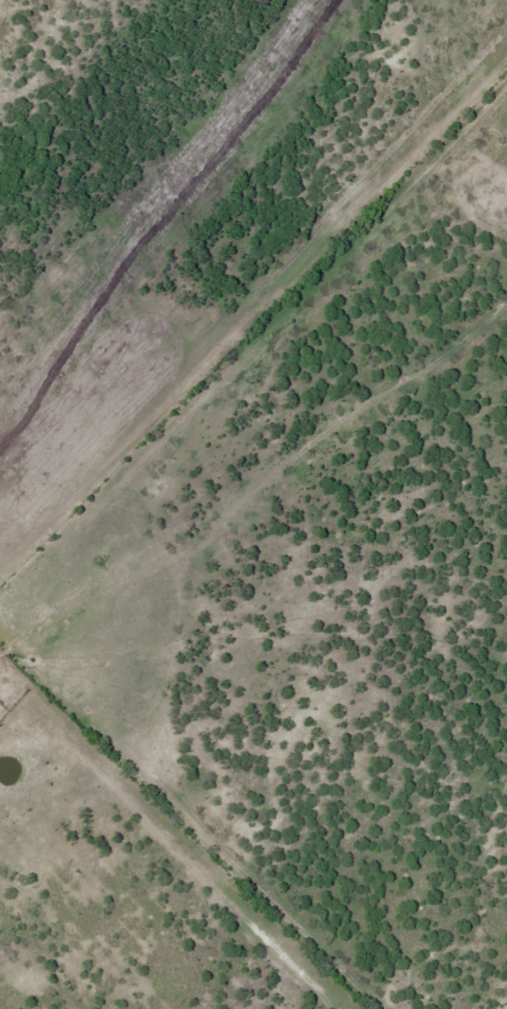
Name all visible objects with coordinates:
road: (4, 1005)

